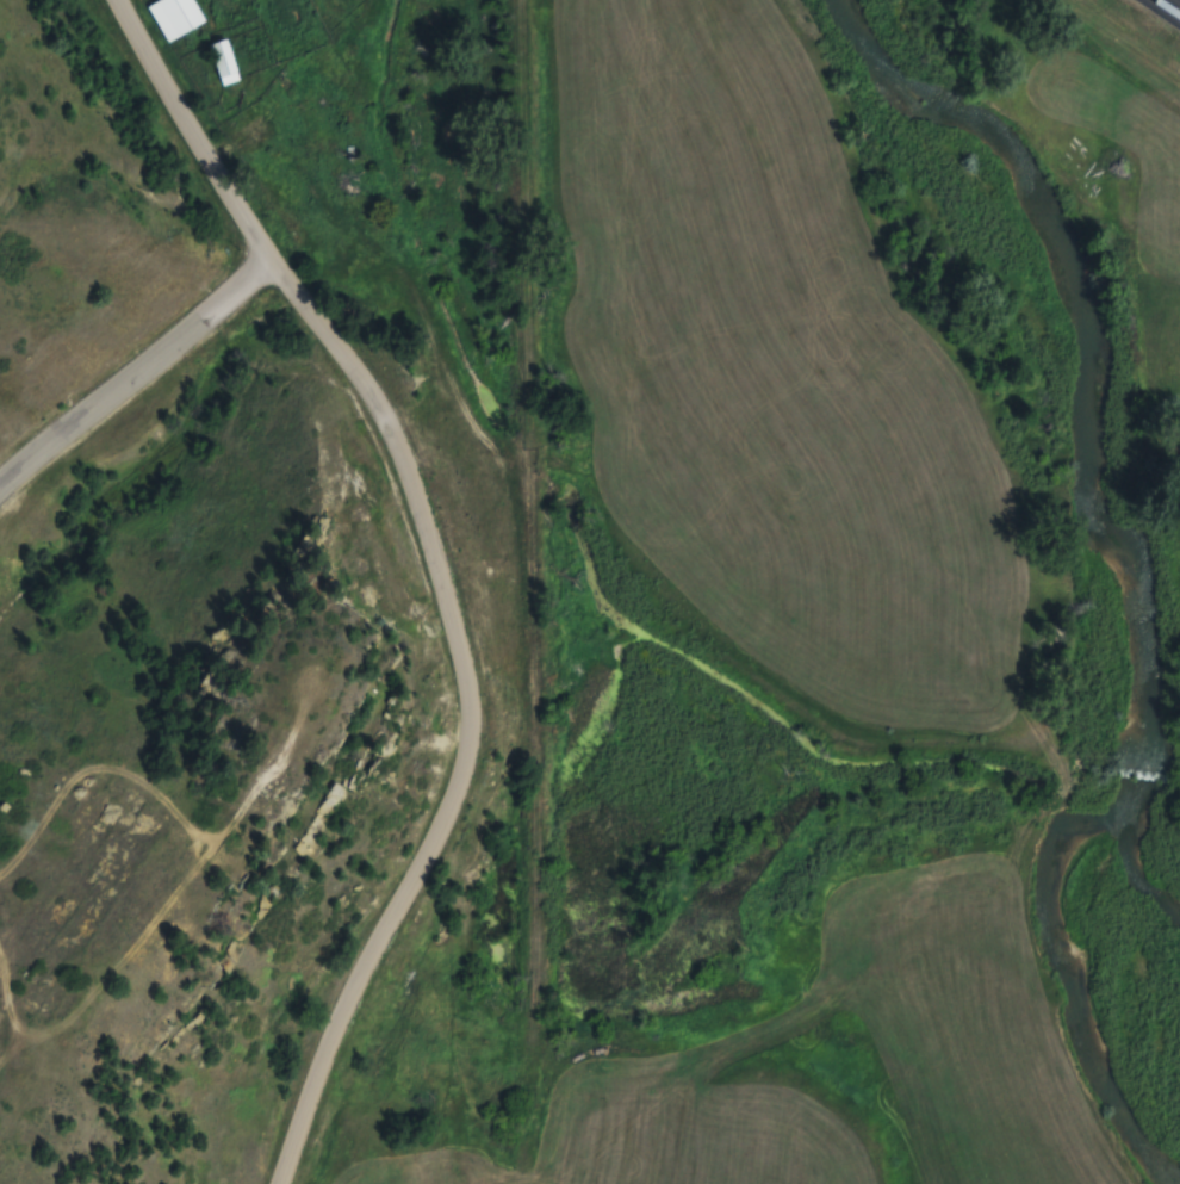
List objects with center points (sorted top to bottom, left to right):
road: (1175, 2)
building: (175, 17)
building: (224, 63)
river: (1095, 341)
road: (131, 372)
road: (437, 571)
river: (1135, 773)
dam: (1141, 777)
river: (1075, 986)

